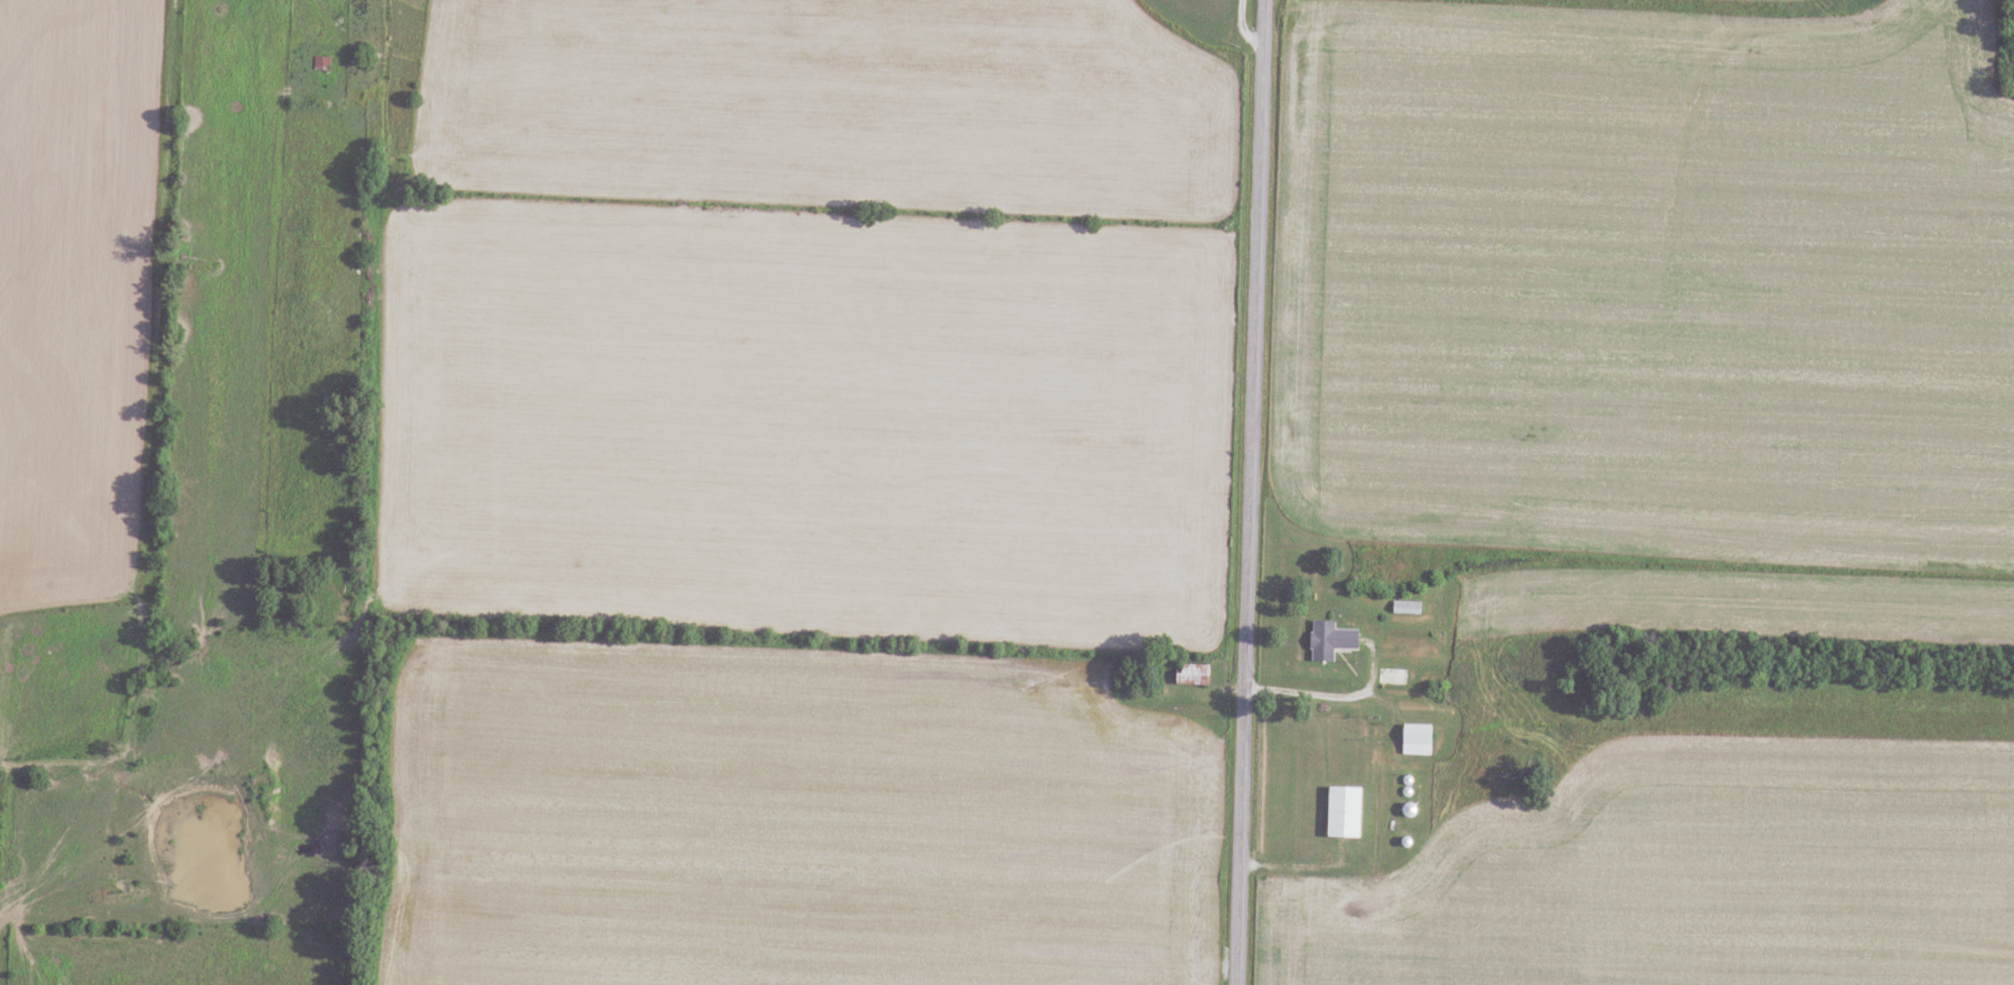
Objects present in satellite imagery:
road: (303, 49)
road: (1251, 492)
building: (1408, 608)
building: (1331, 641)
building: (1193, 675)
building: (1395, 677)
road: (1314, 696)
building: (1418, 740)
building: (1345, 812)

